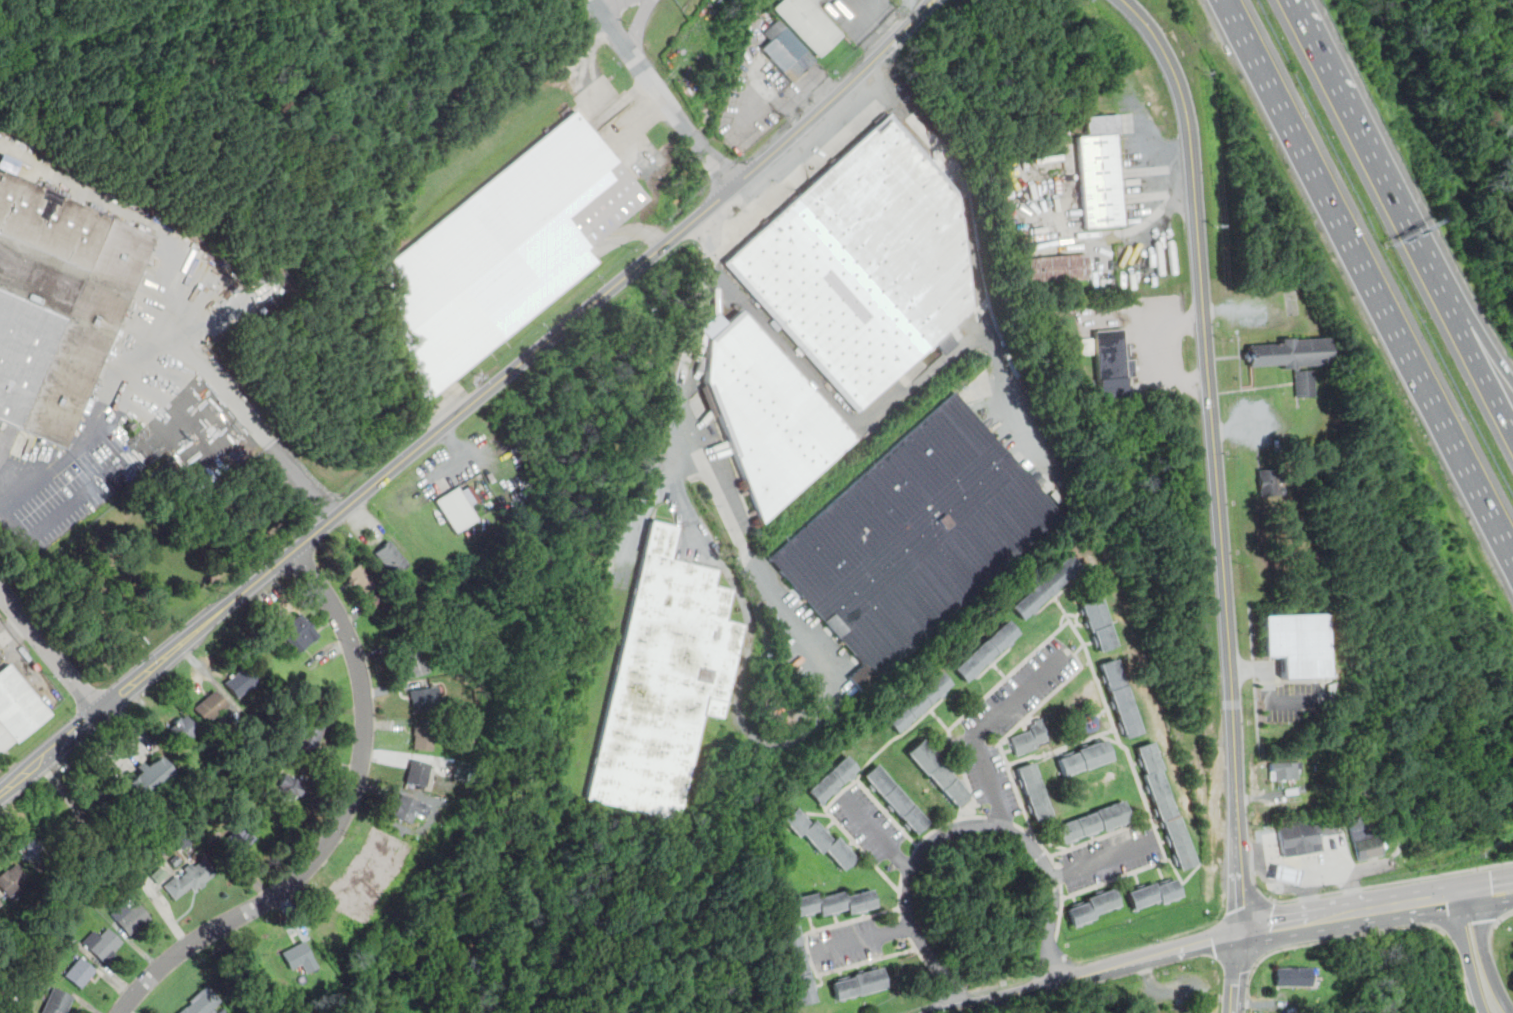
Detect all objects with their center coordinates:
road: (613, 4)
building: (810, 23)
road: (639, 24)
building: (788, 54)
road: (643, 67)
road: (785, 107)
road: (700, 143)
road: (1363, 143)
building: (7, 163)
road: (720, 170)
building: (1101, 173)
road: (116, 206)
building: (507, 252)
road: (980, 263)
building: (865, 264)
road: (706, 267)
building: (1059, 270)
road: (1369, 278)
building: (58, 304)
road: (1475, 335)
building: (1089, 347)
road: (1173, 353)
road: (1475, 359)
building: (1293, 360)
building: (1113, 366)
road: (212, 375)
building: (1077, 375)
building: (1090, 384)
road: (472, 404)
building: (769, 414)
road: (108, 415)
road: (1212, 419)
building: (24, 445)
building: (1306, 475)
building: (1269, 481)
road: (301, 482)
road: (8, 484)
building: (458, 509)
building: (916, 538)
building: (392, 559)
building: (362, 578)
building: (1046, 590)
building: (1099, 623)
building: (297, 635)
building: (1297, 643)
road: (155, 648)
road: (50, 650)
building: (987, 652)
building: (414, 665)
building: (241, 684)
building: (665, 684)
road: (98, 696)
building: (1121, 699)
building: (426, 700)
building: (919, 702)
building: (211, 707)
building: (16, 708)
road: (746, 718)
road: (984, 728)
building: (186, 732)
building: (311, 736)
building: (1031, 738)
building: (422, 740)
building: (1085, 759)
road: (9, 763)
building: (1285, 771)
building: (418, 774)
building: (940, 774)
building: (148, 779)
building: (833, 779)
building: (289, 789)
building: (1302, 790)
building: (1034, 792)
building: (896, 799)
building: (97, 807)
building: (1167, 808)
building: (1321, 808)
building: (409, 811)
road: (340, 822)
road: (963, 824)
building: (1094, 824)
road: (882, 834)
building: (820, 838)
building: (1365, 838)
building: (1301, 839)
gas station: (1301, 839)
building: (236, 842)
building: (34, 856)
building: (175, 860)
road: (1102, 860)
road: (1296, 863)
building: (1288, 873)
road: (1344, 873)
building: (159, 875)
building: (189, 878)
road: (1485, 879)
building: (12, 882)
building: (1157, 894)
road: (1239, 895)
traffic signals: (1462, 895)
road: (1487, 900)
building: (0, 902)
building: (0, 903)
building: (835, 903)
road: (1408, 903)
building: (1093, 909)
road: (1337, 915)
building: (130, 918)
road: (1279, 925)
building: (64, 928)
traffic signals: (1240, 933)
road: (867, 939)
building: (103, 945)
road: (1192, 945)
road: (1485, 953)
road: (1467, 954)
building: (298, 956)
building: (798, 965)
building: (79, 972)
road: (1237, 973)
building: (1294, 977)
road: (1046, 984)
building: (859, 985)
building: (57, 1002)
building: (201, 1002)
building: (8, 1003)
road: (1261, 1004)

